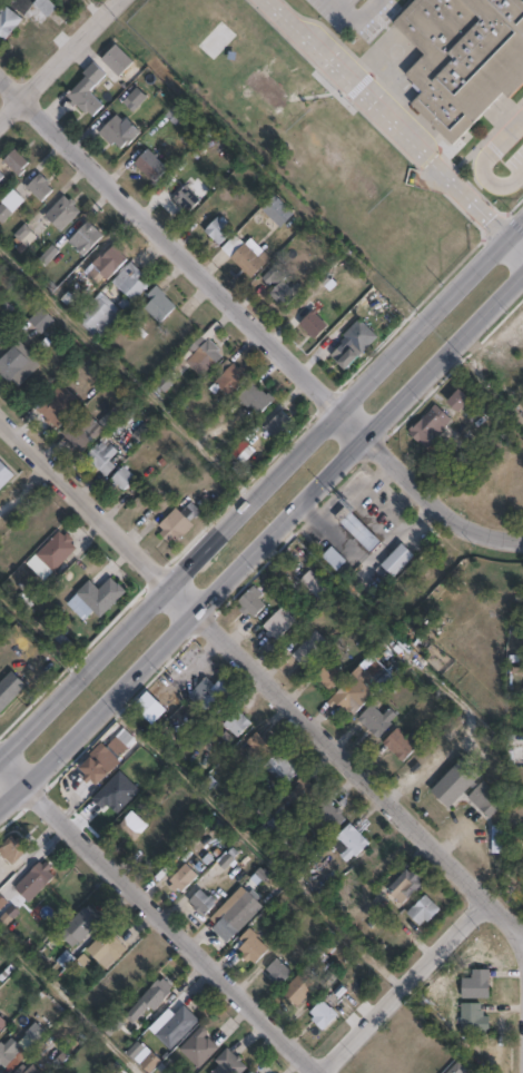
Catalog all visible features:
building: (18, 3)
building: (38, 11)
road: (356, 17)
building: (7, 22)
road: (58, 57)
building: (462, 58)
building: (117, 63)
building: (86, 90)
building: (177, 112)
road: (393, 116)
building: (116, 132)
building: (14, 161)
road: (484, 165)
building: (149, 166)
building: (0, 178)
building: (38, 187)
building: (185, 198)
building: (9, 205)
building: (277, 211)
building: (61, 214)
building: (217, 230)
building: (23, 239)
building: (85, 239)
road: (515, 243)
road: (181, 255)
building: (244, 256)
building: (109, 260)
building: (130, 282)
building: (286, 293)
building: (158, 305)
building: (100, 317)
building: (40, 321)
building: (313, 325)
building: (0, 338)
building: (351, 344)
building: (203, 355)
building: (18, 365)
building: (227, 378)
building: (254, 398)
building: (457, 402)
building: (57, 406)
building: (278, 426)
building: (428, 426)
building: (80, 434)
building: (243, 451)
building: (101, 457)
building: (4, 476)
building: (121, 479)
road: (260, 489)
road: (434, 500)
road: (96, 512)
building: (178, 523)
building: (356, 529)
road: (265, 534)
building: (56, 551)
building: (333, 560)
building: (397, 561)
building: (313, 584)
building: (99, 597)
building: (251, 603)
building: (278, 623)
building: (310, 650)
building: (327, 673)
building: (517, 681)
building: (9, 690)
building: (213, 693)
building: (351, 696)
building: (376, 720)
building: (236, 722)
building: (259, 744)
building: (401, 746)
building: (103, 759)
road: (10, 765)
building: (284, 767)
road: (354, 770)
building: (455, 784)
building: (305, 790)
building: (485, 800)
building: (328, 815)
building: (131, 825)
building: (496, 839)
road: (251, 841)
building: (349, 843)
building: (12, 849)
building: (182, 877)
building: (33, 879)
building: (404, 885)
building: (201, 902)
building: (2, 903)
building: (423, 909)
building: (234, 916)
building: (79, 925)
road: (169, 925)
building: (250, 946)
building: (106, 948)
building: (277, 971)
building: (306, 984)
building: (476, 984)
road: (401, 986)
building: (152, 996)
road: (69, 1004)
building: (323, 1014)
building: (474, 1018)
building: (2, 1023)
building: (177, 1025)
building: (32, 1036)
building: (198, 1046)
building: (8, 1052)
building: (151, 1062)
building: (229, 1063)
building: (457, 1067)
building: (27, 1070)
building: (253, 1072)
building: (260, 1072)

